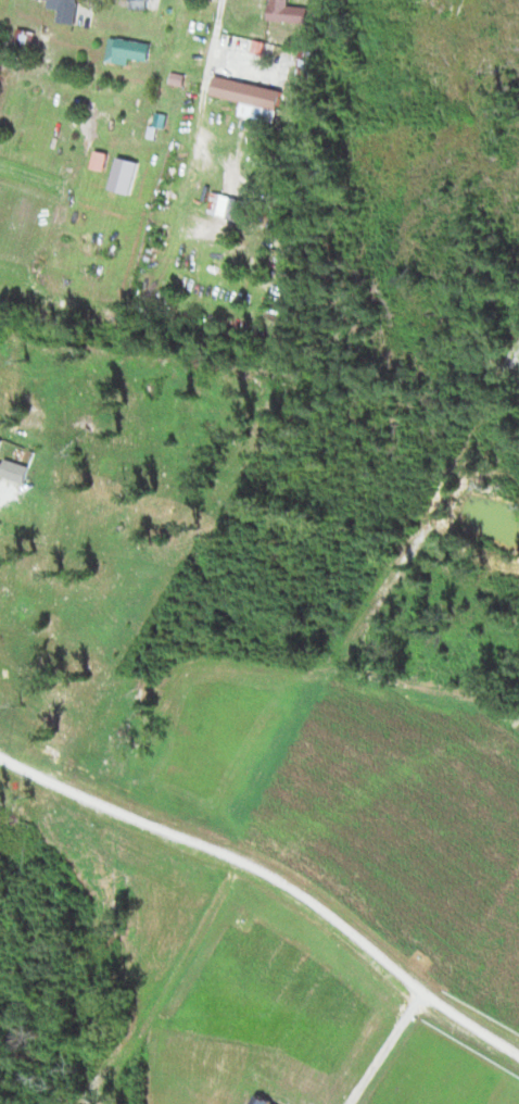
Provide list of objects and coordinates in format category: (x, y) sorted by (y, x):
building: (143, 4)
building: (69, 10)
building: (290, 11)
building: (129, 50)
building: (250, 91)
building: (230, 206)
road: (468, 394)

